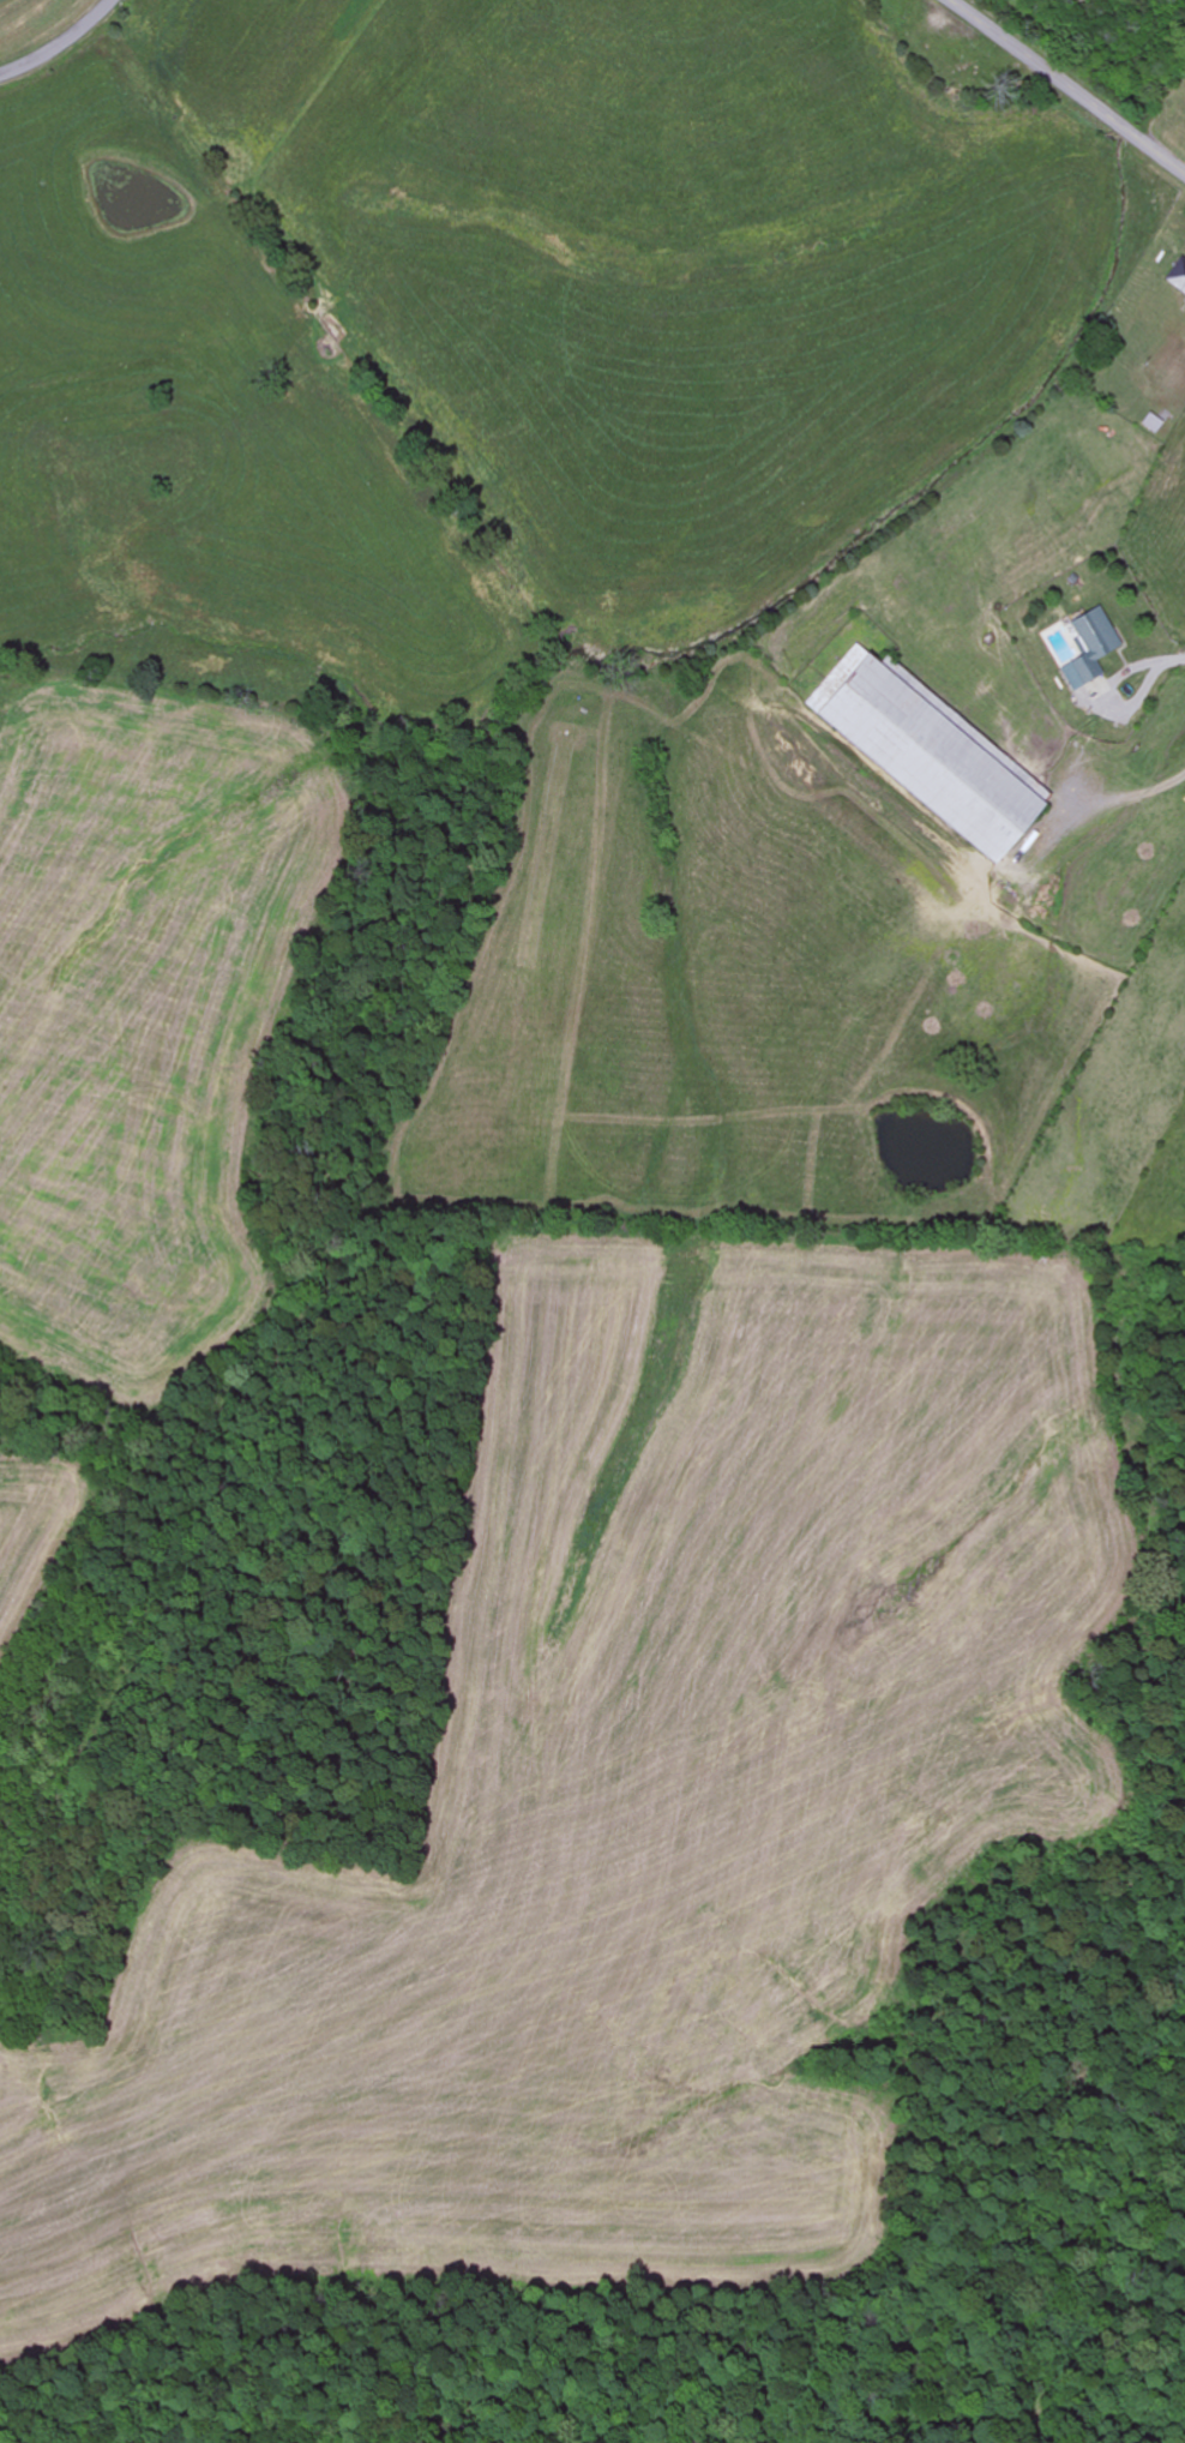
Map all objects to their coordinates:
road: (59, 42)
road: (1065, 89)
building: (1177, 280)
building: (1089, 648)
building: (928, 755)

